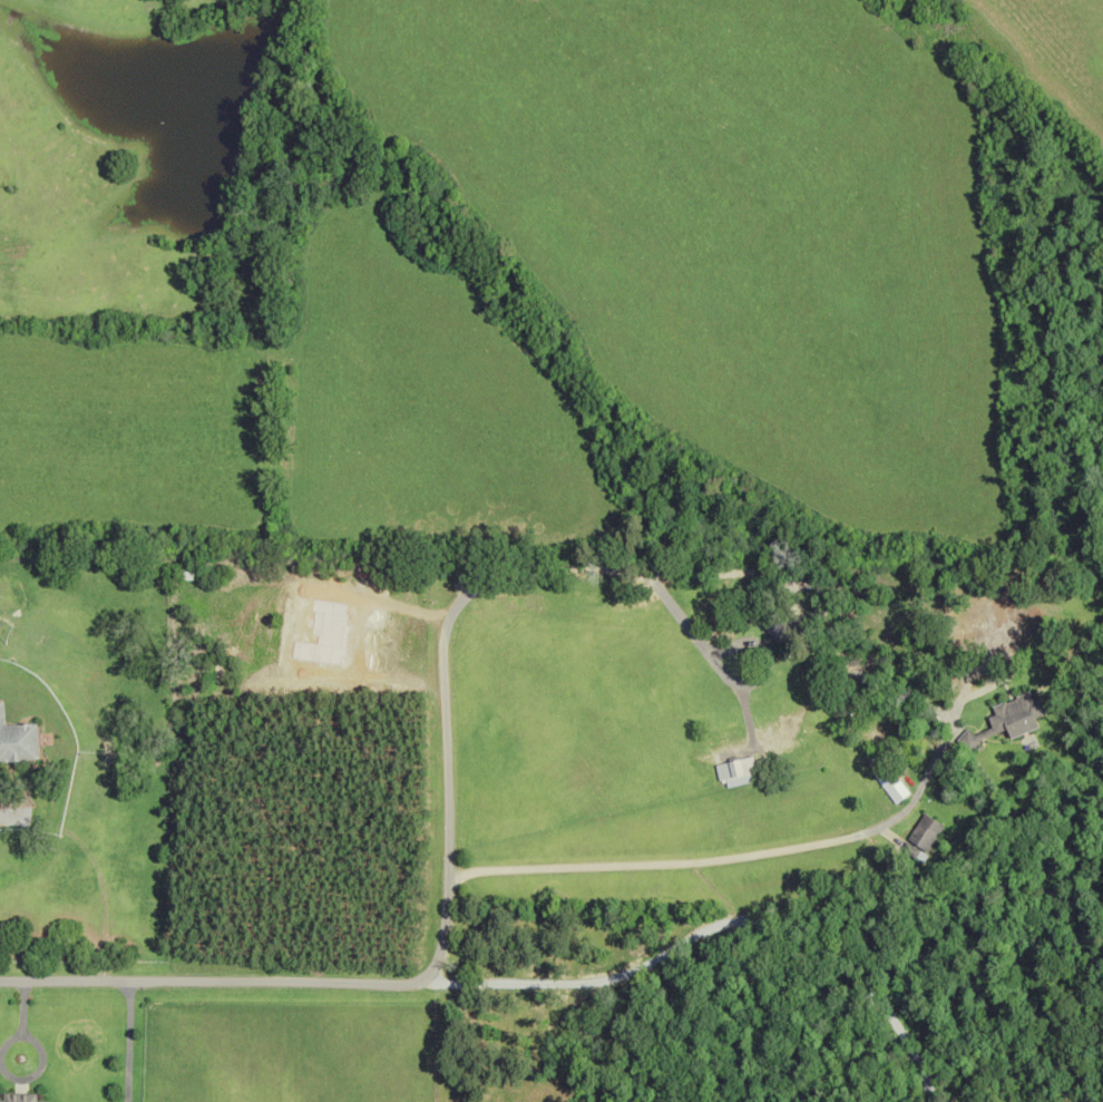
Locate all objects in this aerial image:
road: (592, 558)
building: (783, 630)
building: (1013, 719)
building: (17, 741)
building: (736, 772)
building: (894, 783)
road: (8, 816)
building: (926, 837)
road: (743, 856)
road: (716, 924)
road: (403, 981)
road: (126, 1040)
building: (17, 1098)

